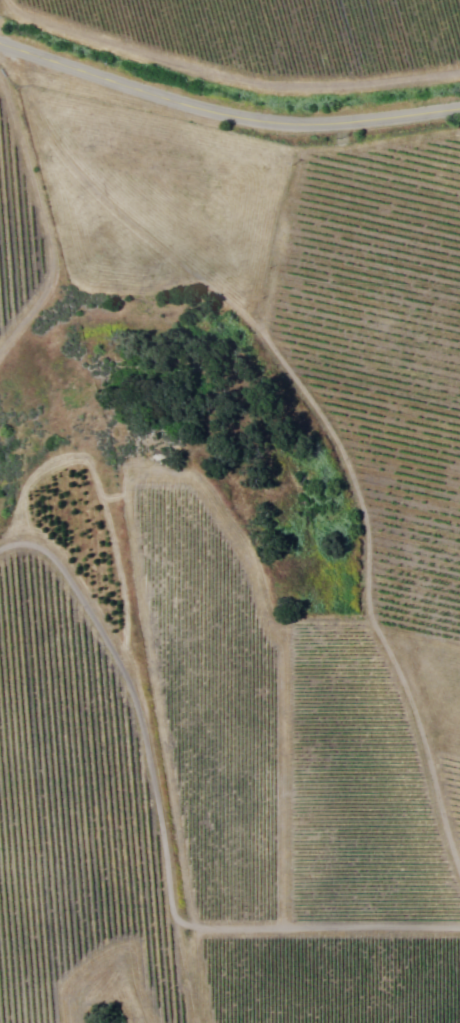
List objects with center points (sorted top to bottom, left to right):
road: (225, 122)
crop: (313, 238)
crop: (451, 780)
crop: (80, 799)

